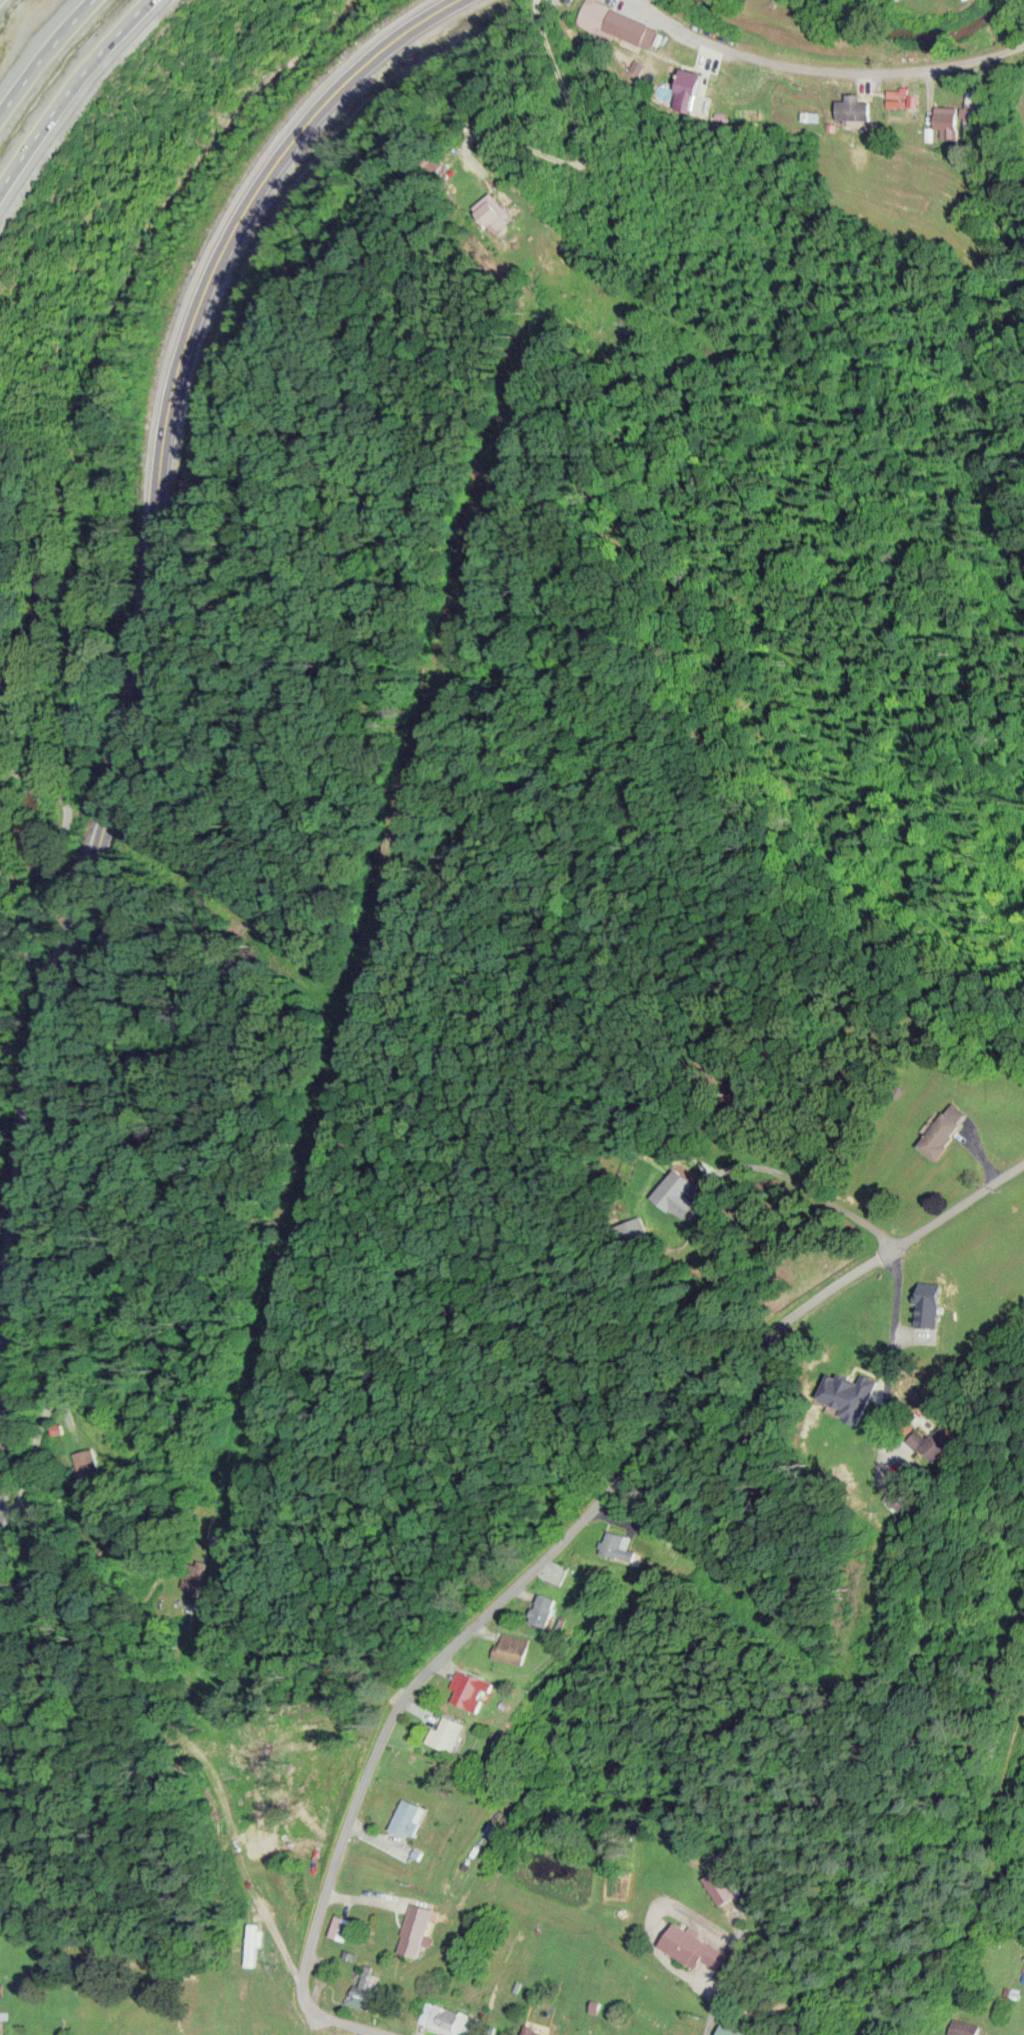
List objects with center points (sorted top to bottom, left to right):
building: (613, 19)
road: (40, 50)
road: (817, 64)
building: (692, 90)
road: (66, 91)
building: (855, 107)
road: (590, 155)
road: (134, 673)
building: (947, 1128)
building: (679, 1191)
road: (821, 1285)
building: (948, 1439)
road: (39, 1445)
building: (89, 1467)
building: (910, 1496)
building: (619, 1543)
building: (547, 1608)
road: (459, 1643)
building: (514, 1646)
building: (474, 1688)
building: (451, 1731)
building: (413, 1816)
road: (246, 1871)
building: (724, 1883)
building: (344, 1926)
building: (420, 1927)
building: (255, 1941)
building: (689, 1942)
road: (730, 1979)
building: (369, 1988)
building: (442, 2018)
road: (357, 2026)
building: (966, 2027)
building: (740, 2030)
building: (539, 2034)

